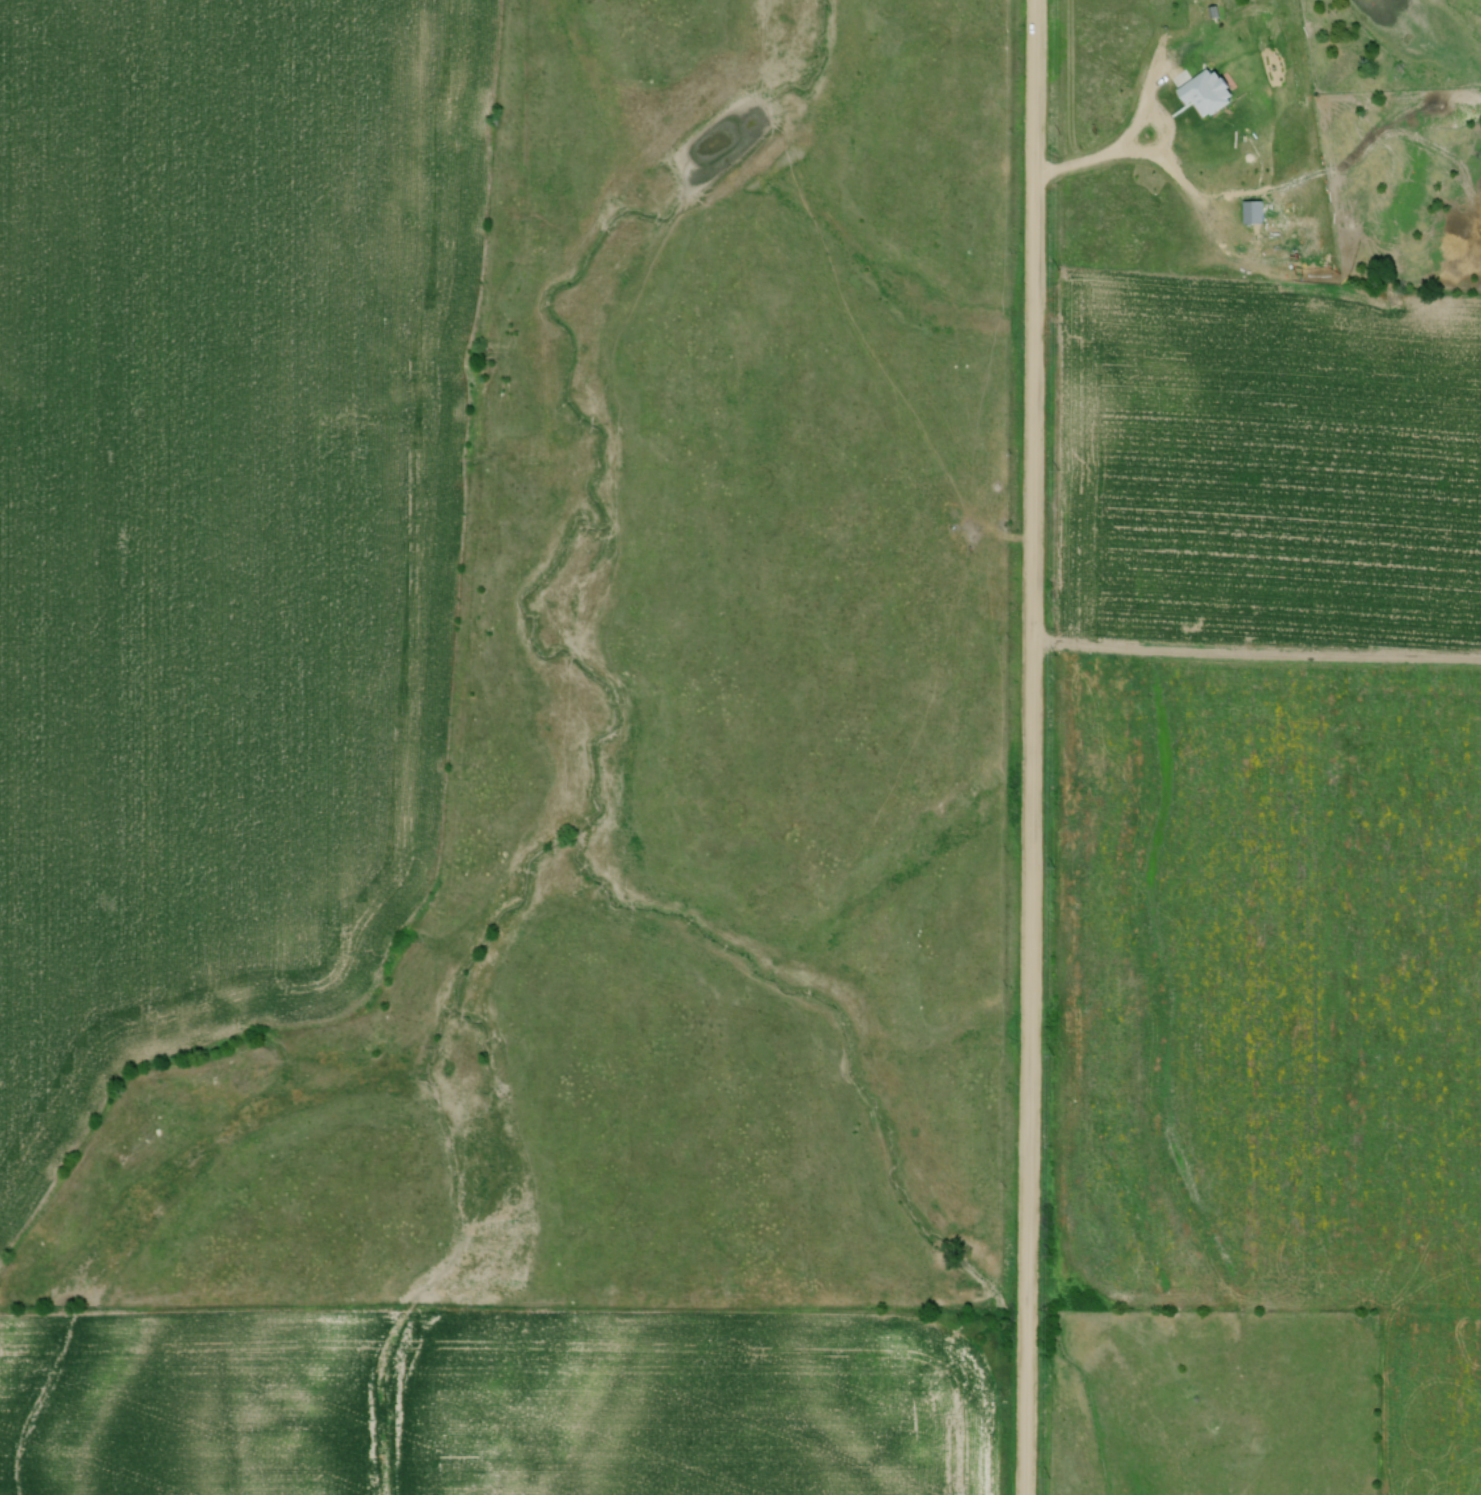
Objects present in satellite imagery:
road: (1034, 747)

